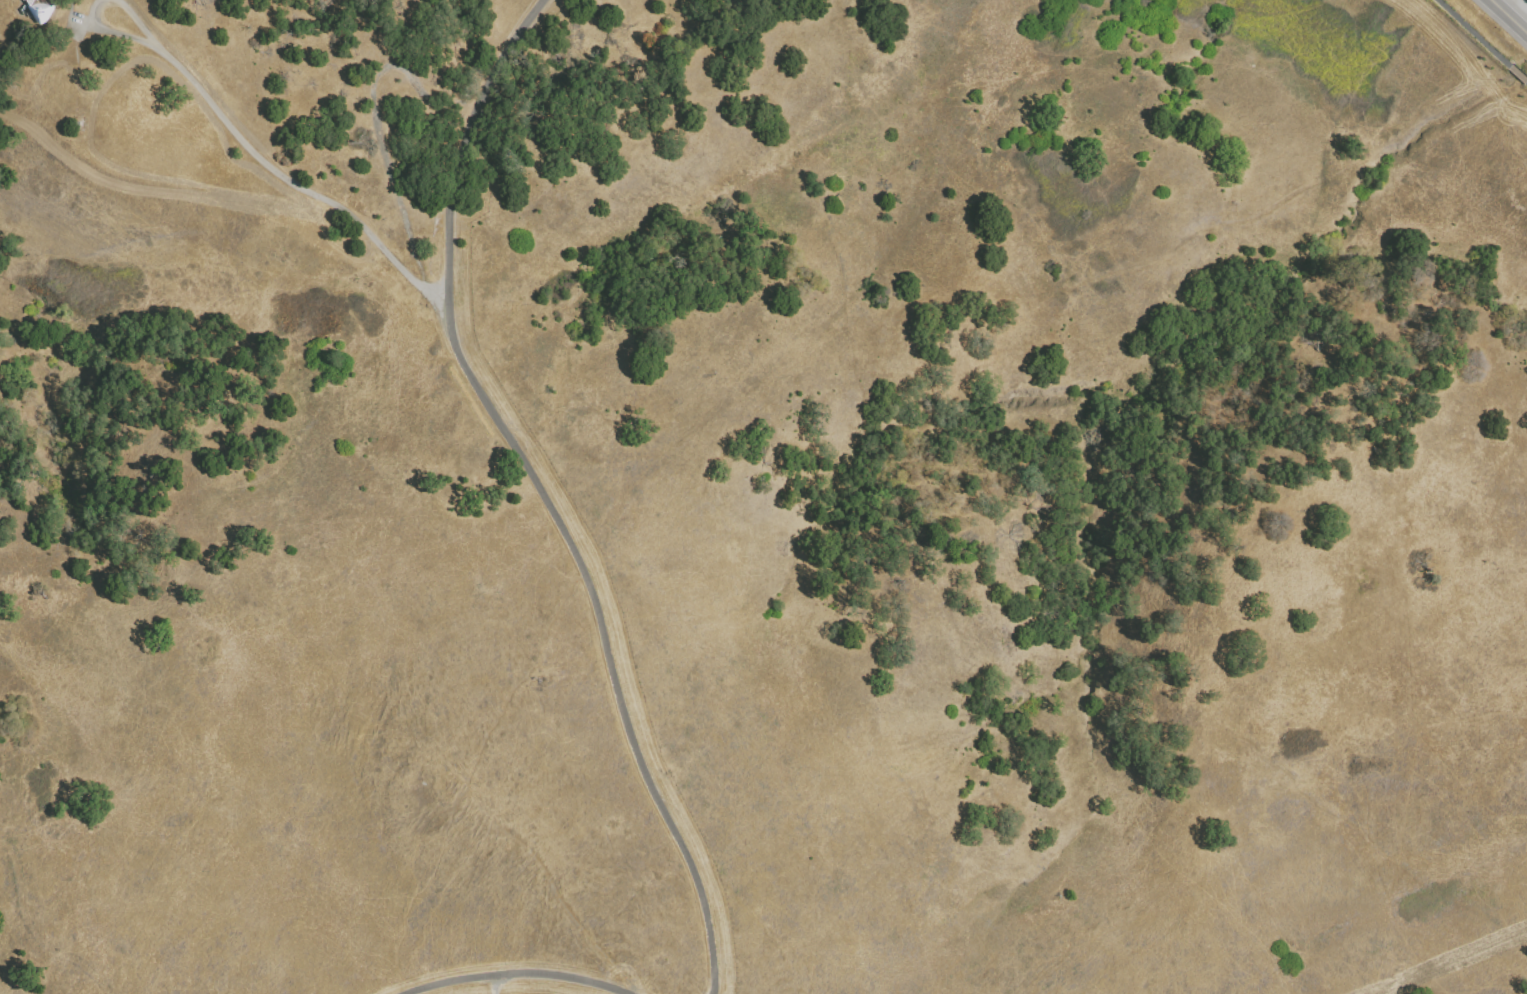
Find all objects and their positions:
building: (40, 10)
road: (1508, 17)
road: (136, 19)
road: (106, 30)
road: (1474, 33)
road: (1519, 73)
building: (77, 127)
road: (295, 180)
road: (542, 490)
road: (515, 980)
road: (492, 986)

